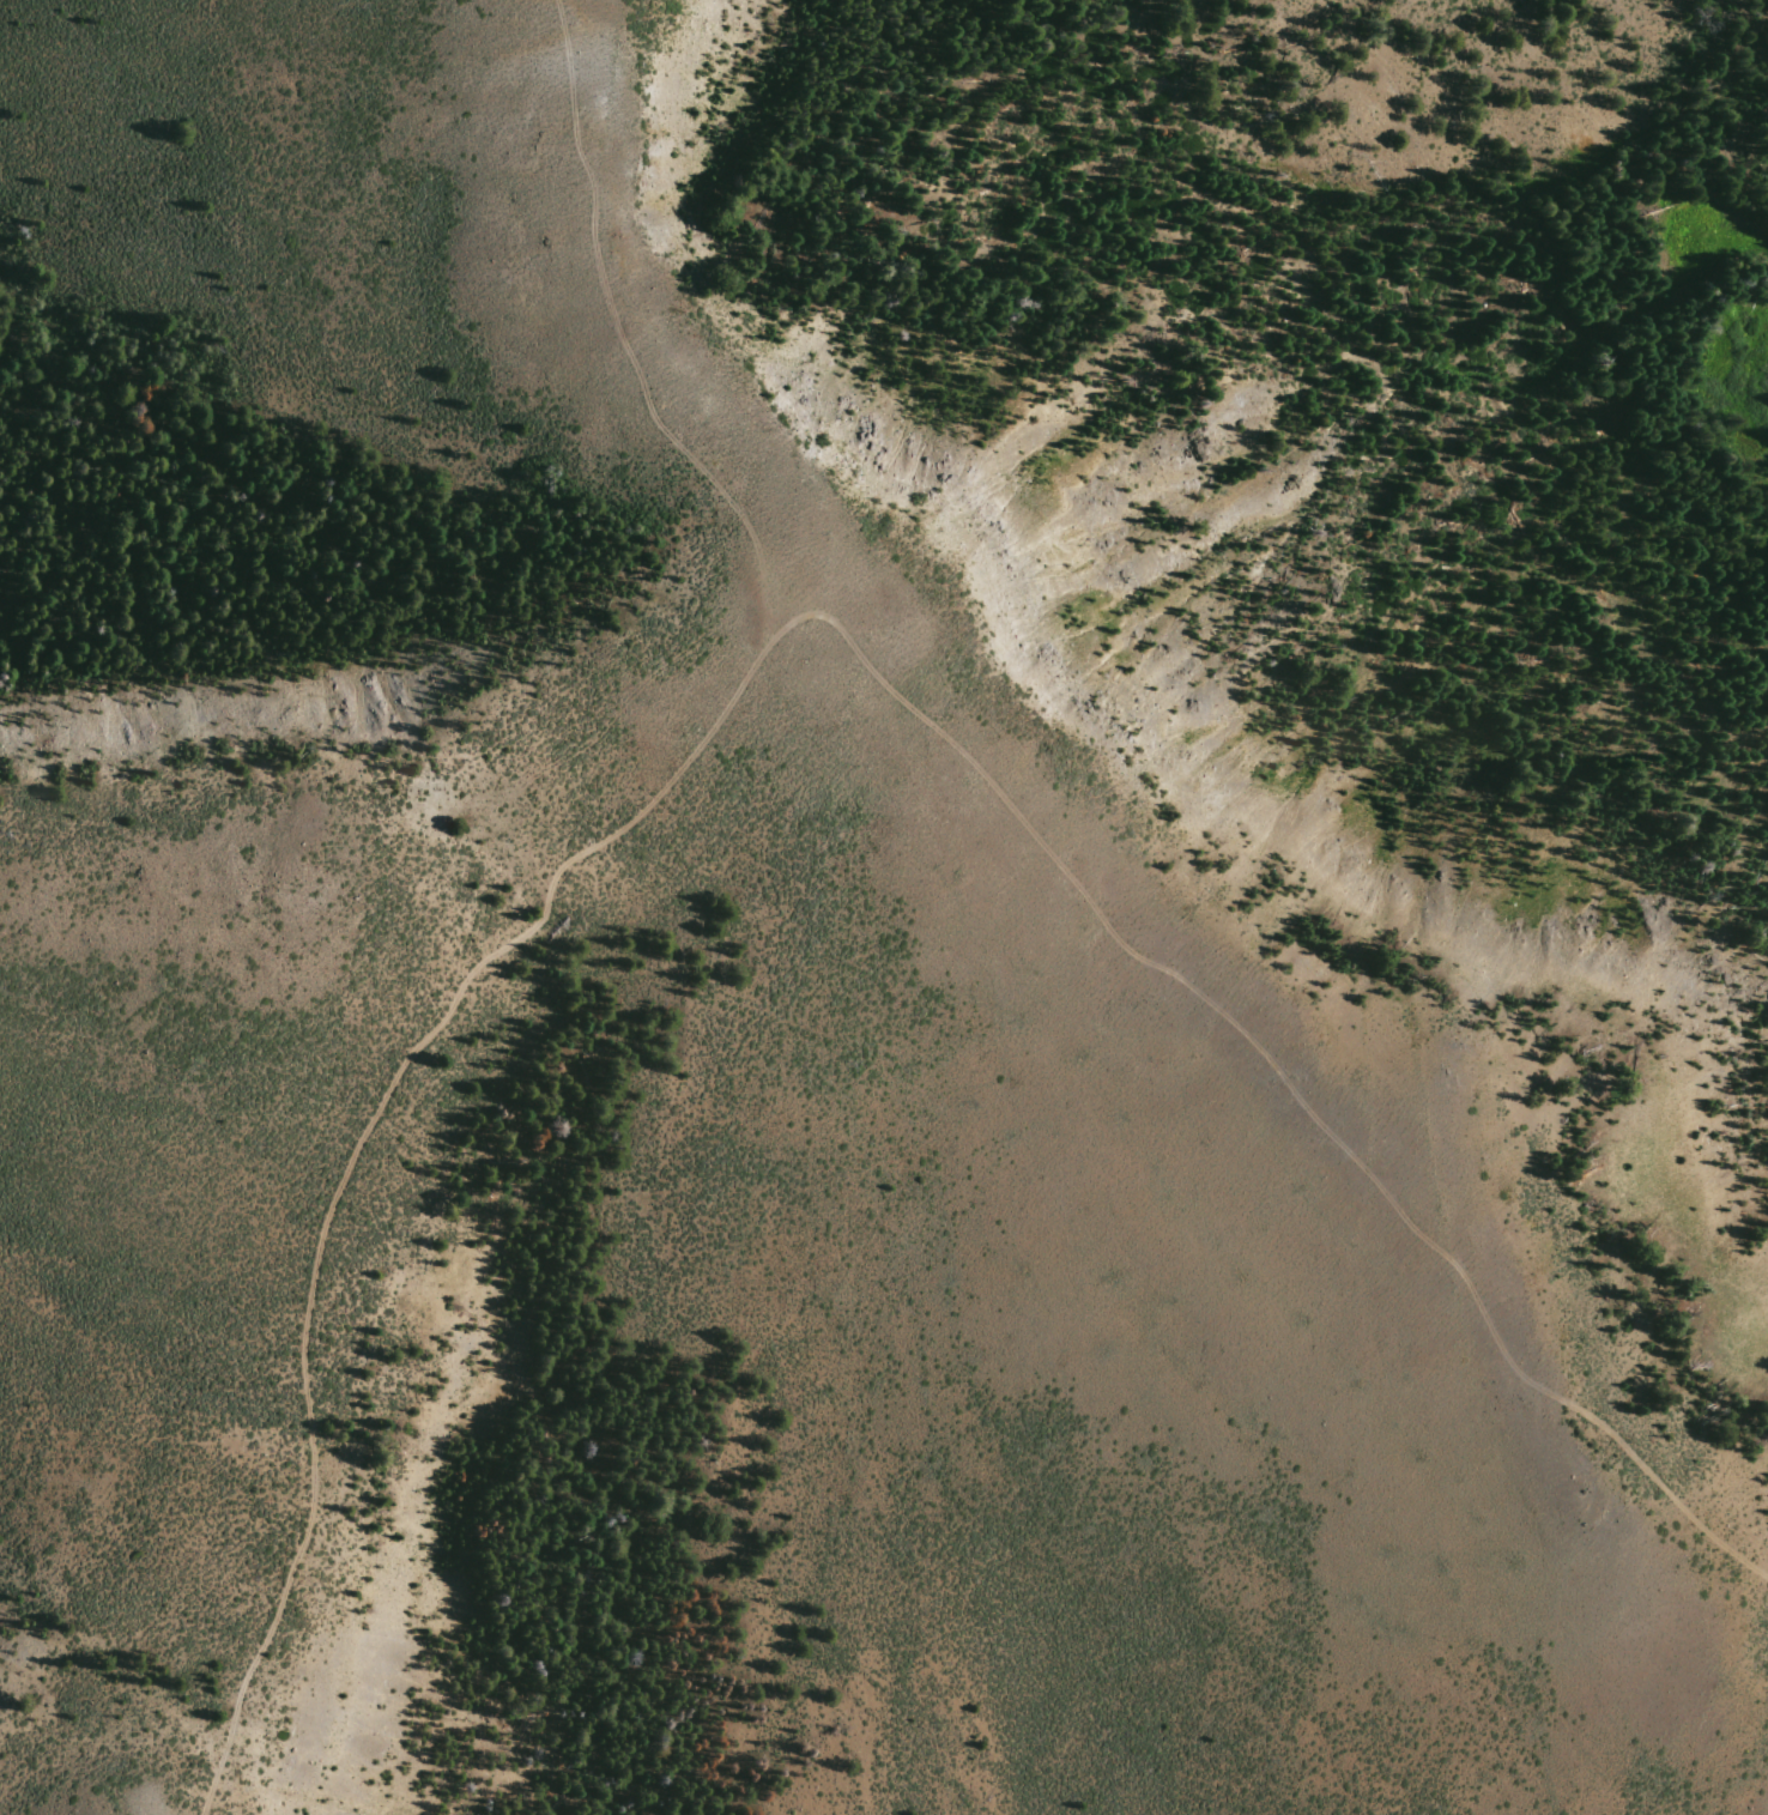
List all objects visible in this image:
road: (632, 340)
road: (792, 629)

